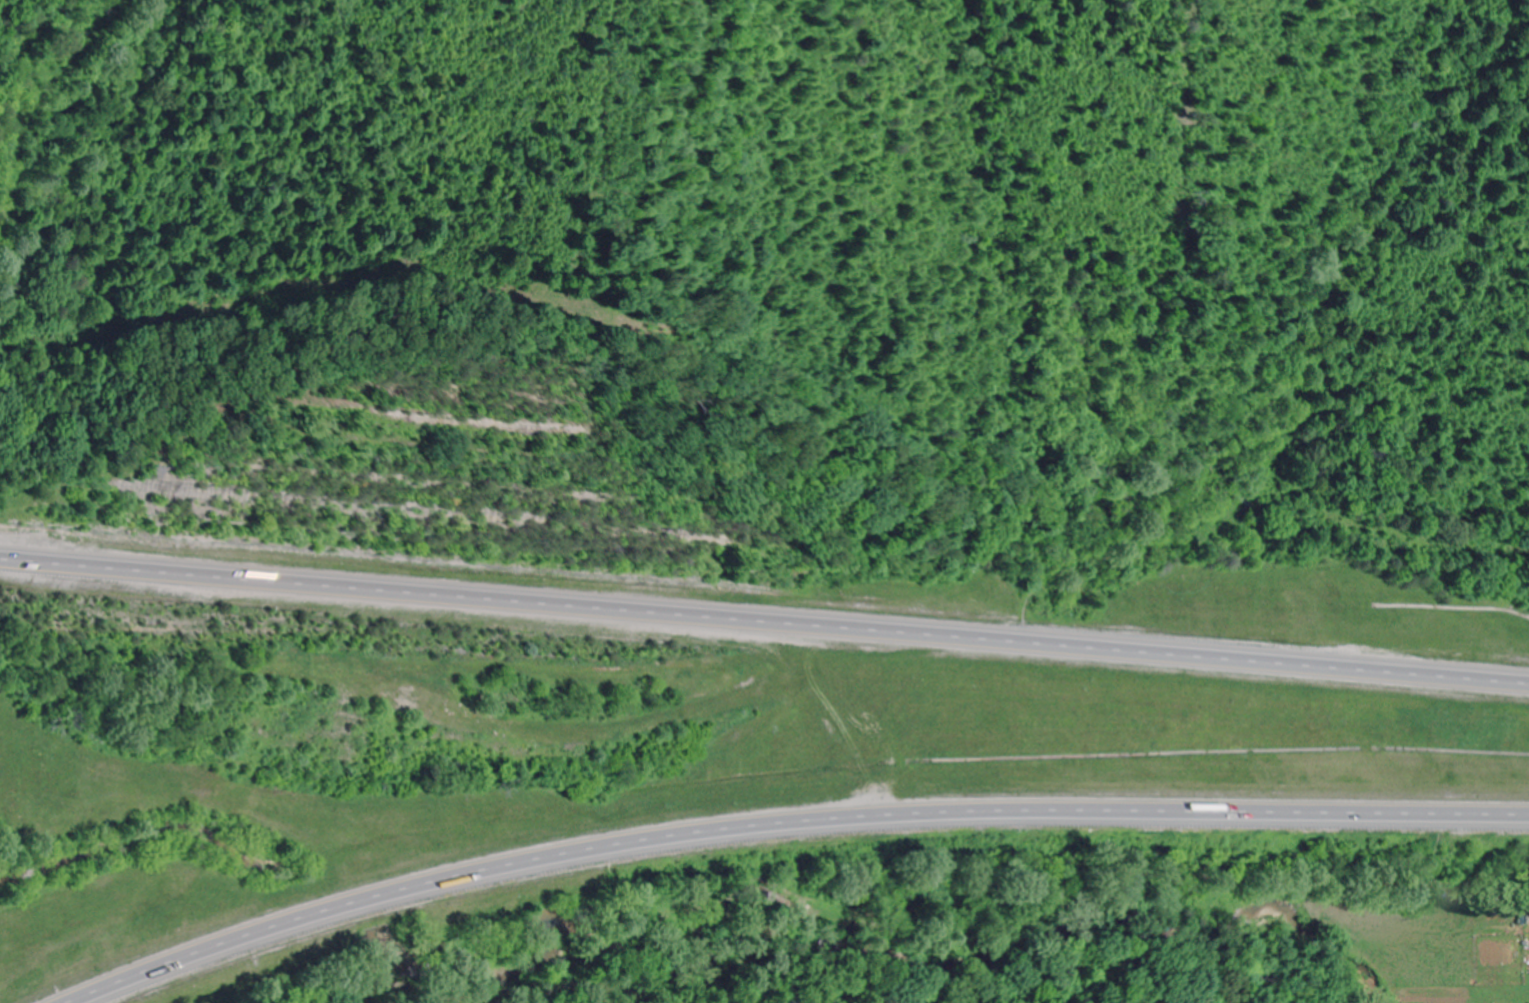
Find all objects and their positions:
road: (764, 619)
road: (797, 828)

